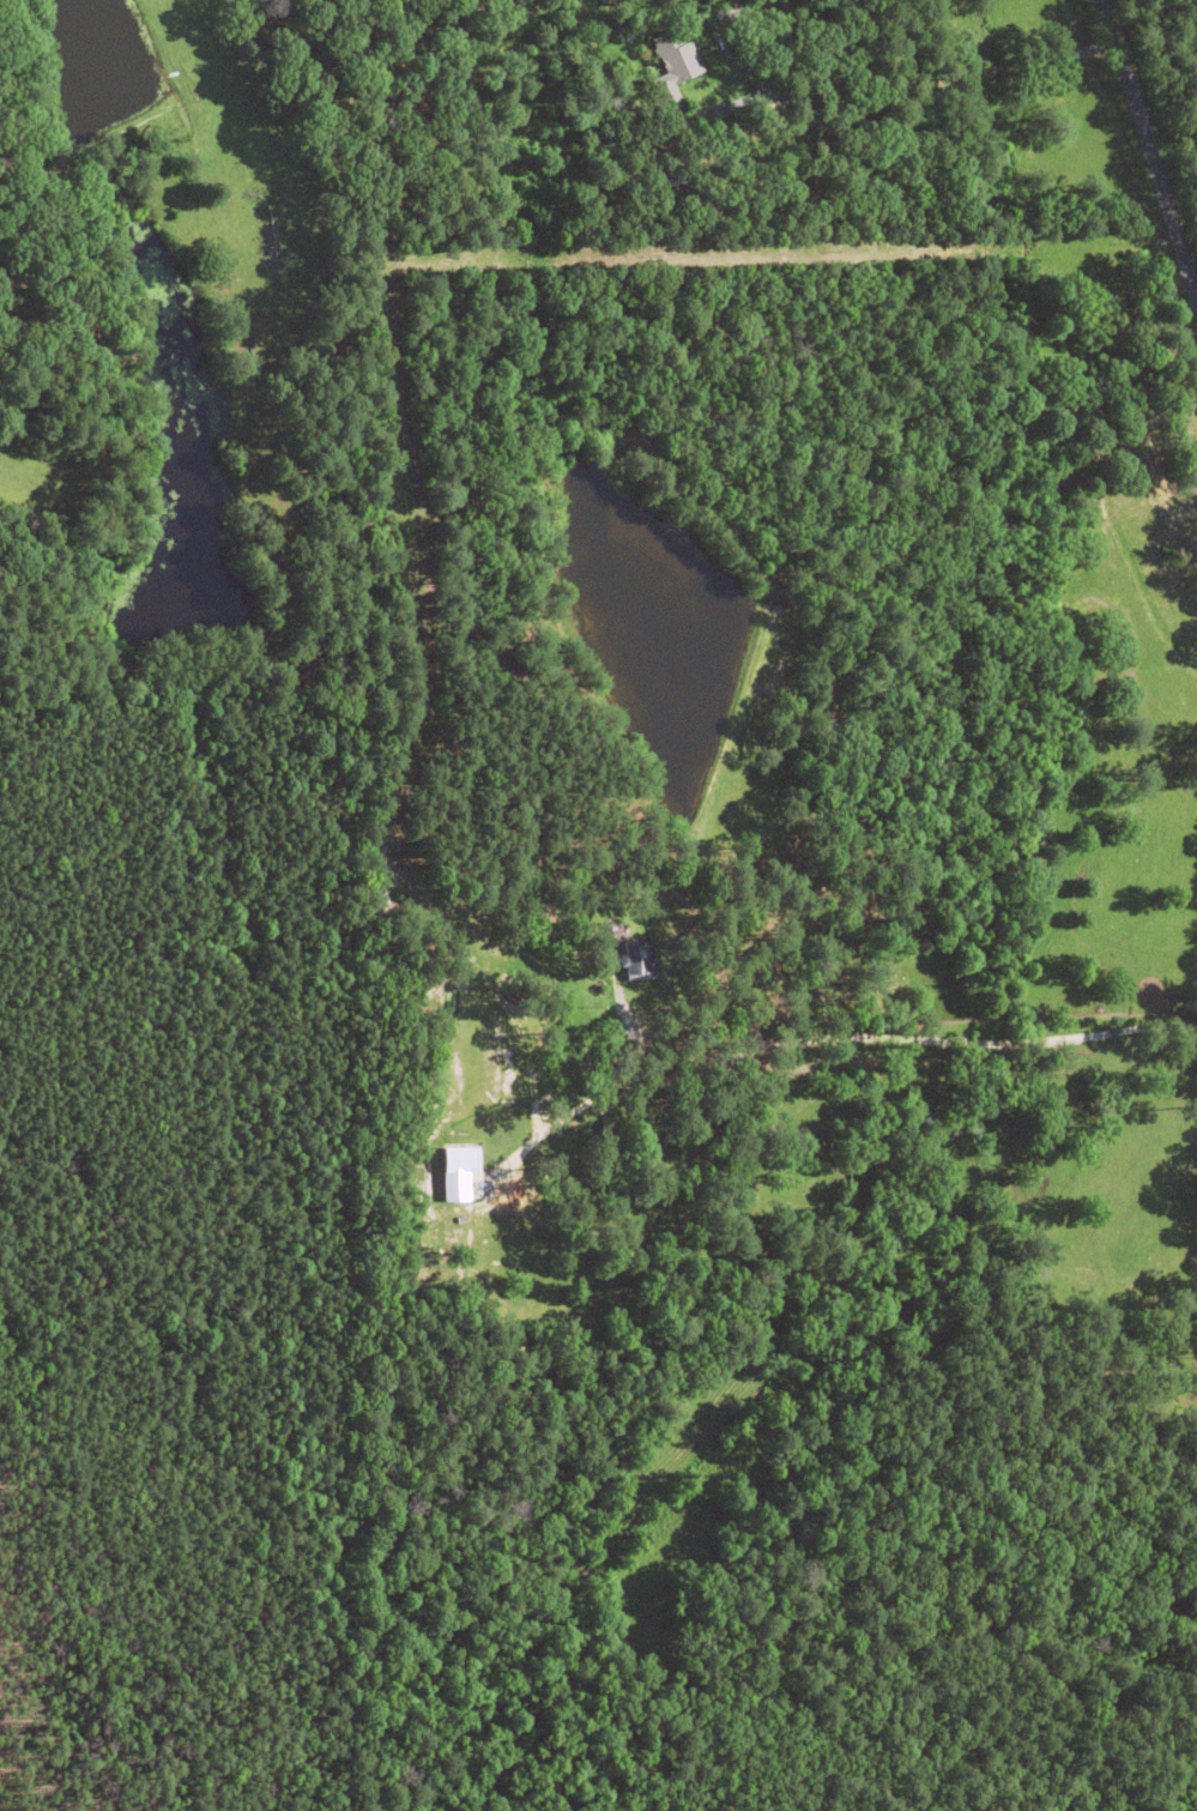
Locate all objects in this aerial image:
building: (670, 65)
road: (1135, 198)
building: (634, 960)

